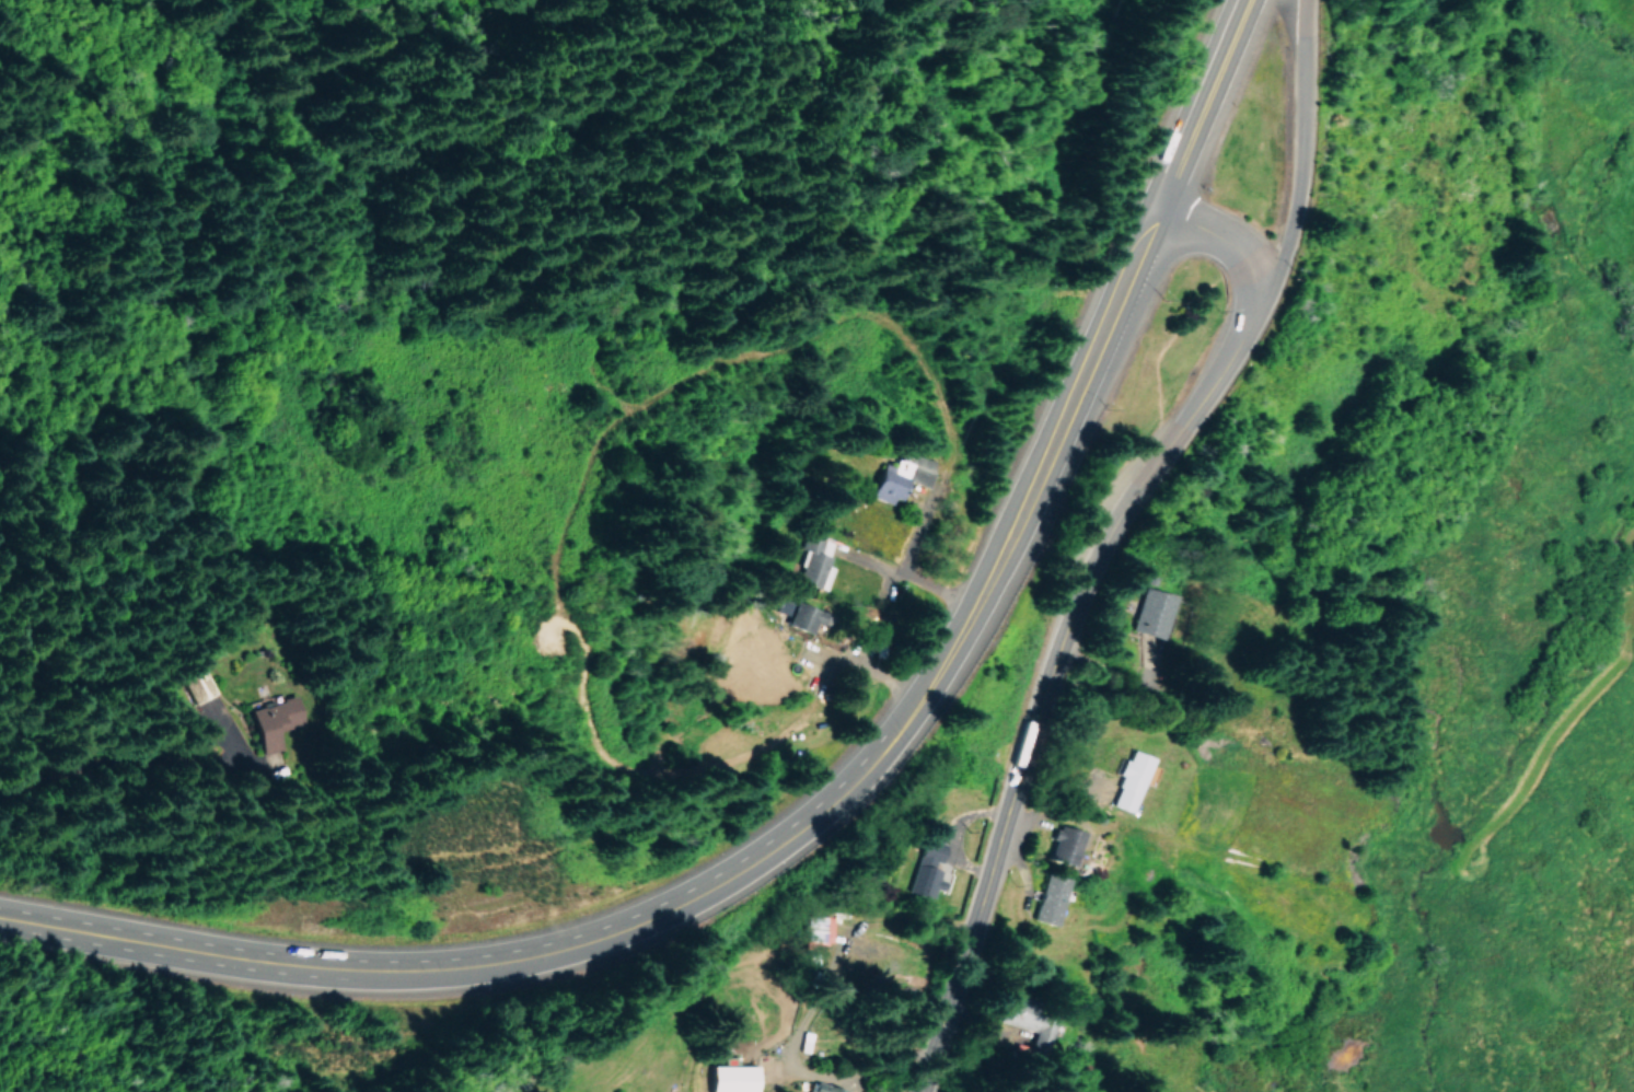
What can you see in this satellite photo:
road: (1206, 104)
road: (1301, 159)
road: (1228, 244)
road: (1041, 477)
building: (814, 561)
building: (1150, 612)
building: (799, 615)
road: (1047, 682)
building: (194, 683)
building: (271, 721)
building: (1129, 780)
building: (1063, 845)
building: (926, 869)
building: (1047, 898)
road: (660, 913)
building: (816, 932)
road: (183, 949)
building: (1027, 1023)
building: (731, 1078)
building: (822, 1088)

